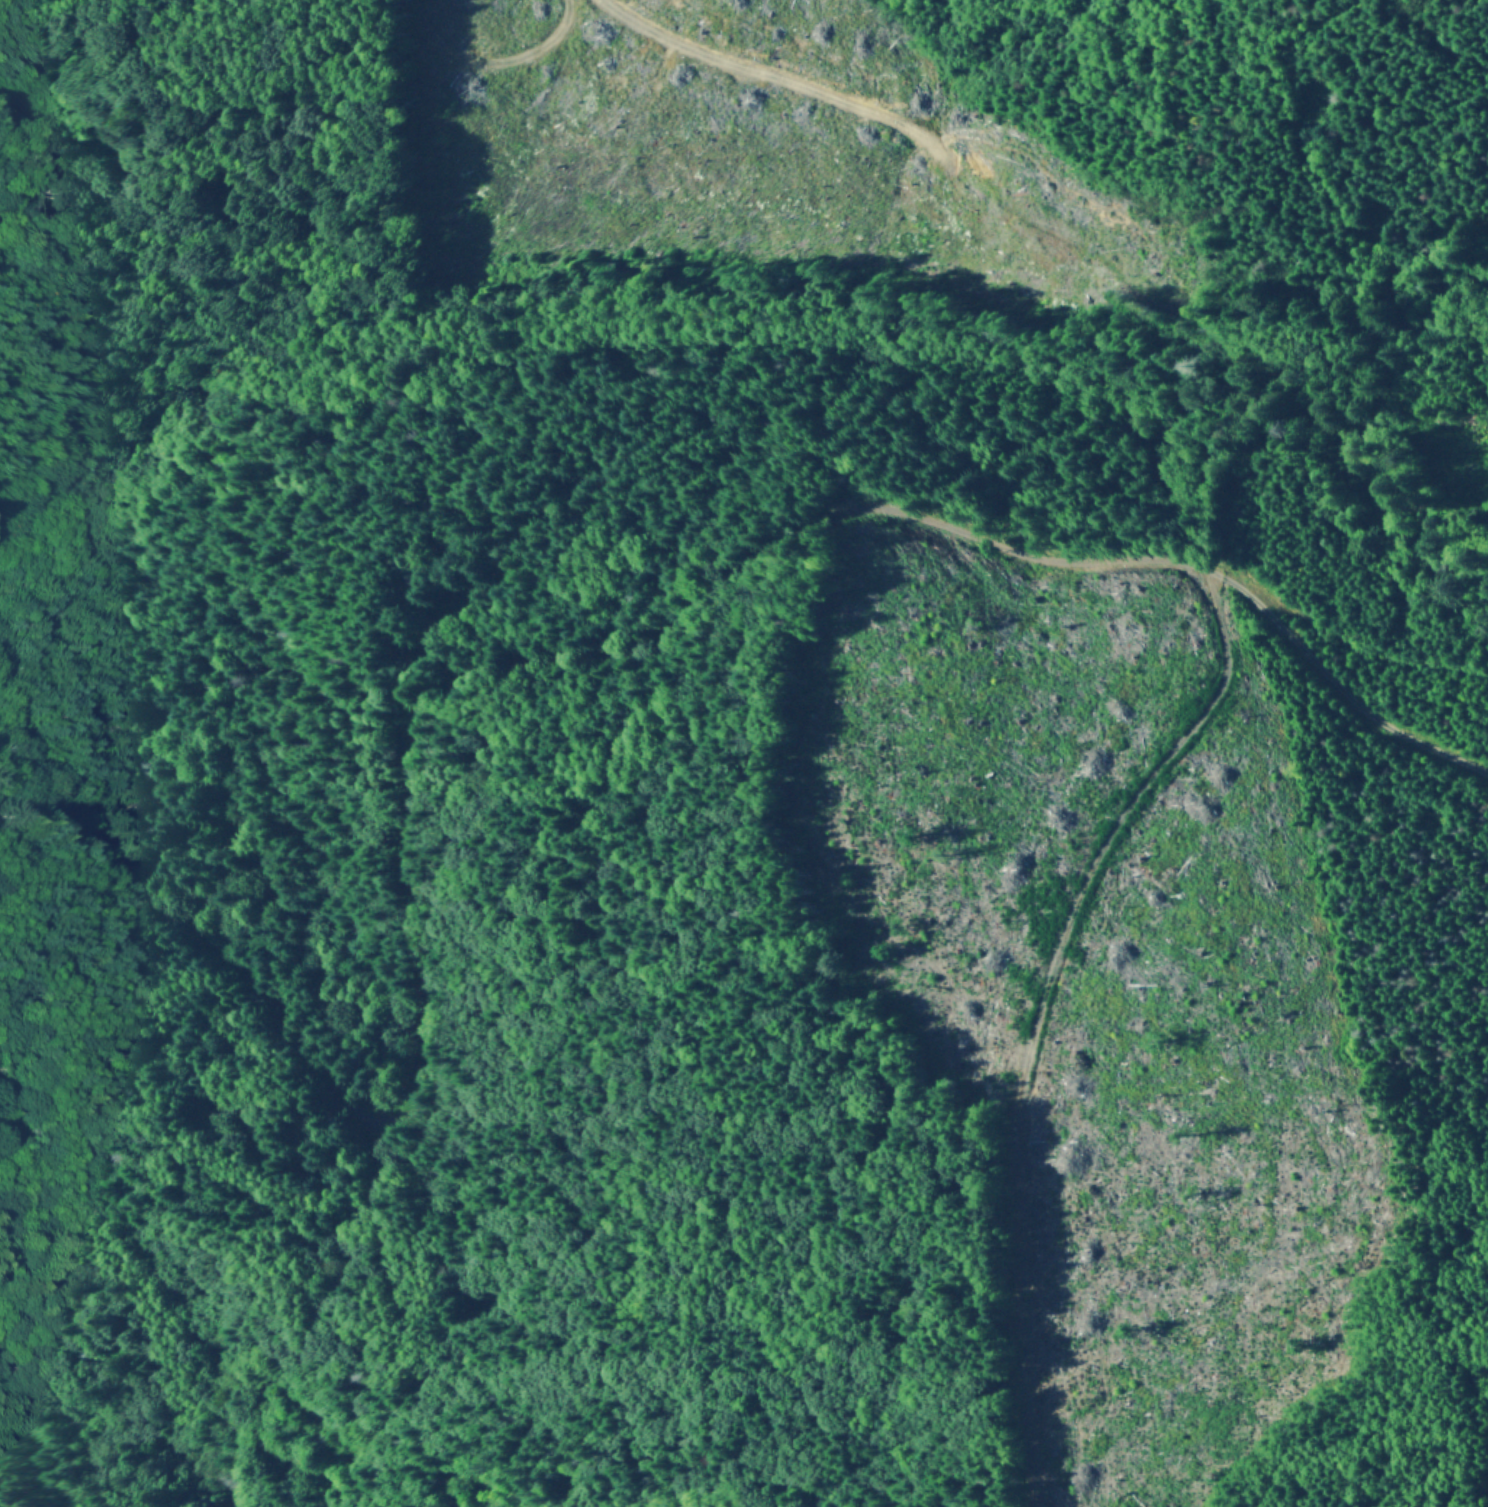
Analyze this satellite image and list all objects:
road: (479, 50)
road: (711, 63)
road: (1388, 253)
road: (1464, 322)
road: (574, 709)
road: (1475, 736)
road: (1016, 1025)
road: (392, 1200)
road: (96, 1342)

